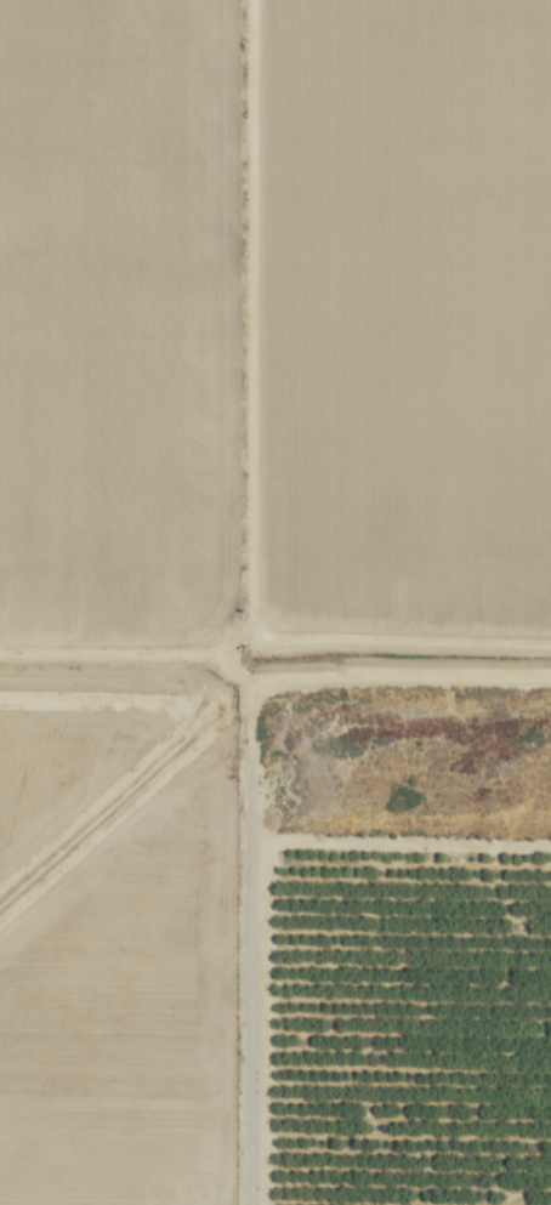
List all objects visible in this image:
crop: (275, 602)
crop: (126, 917)

